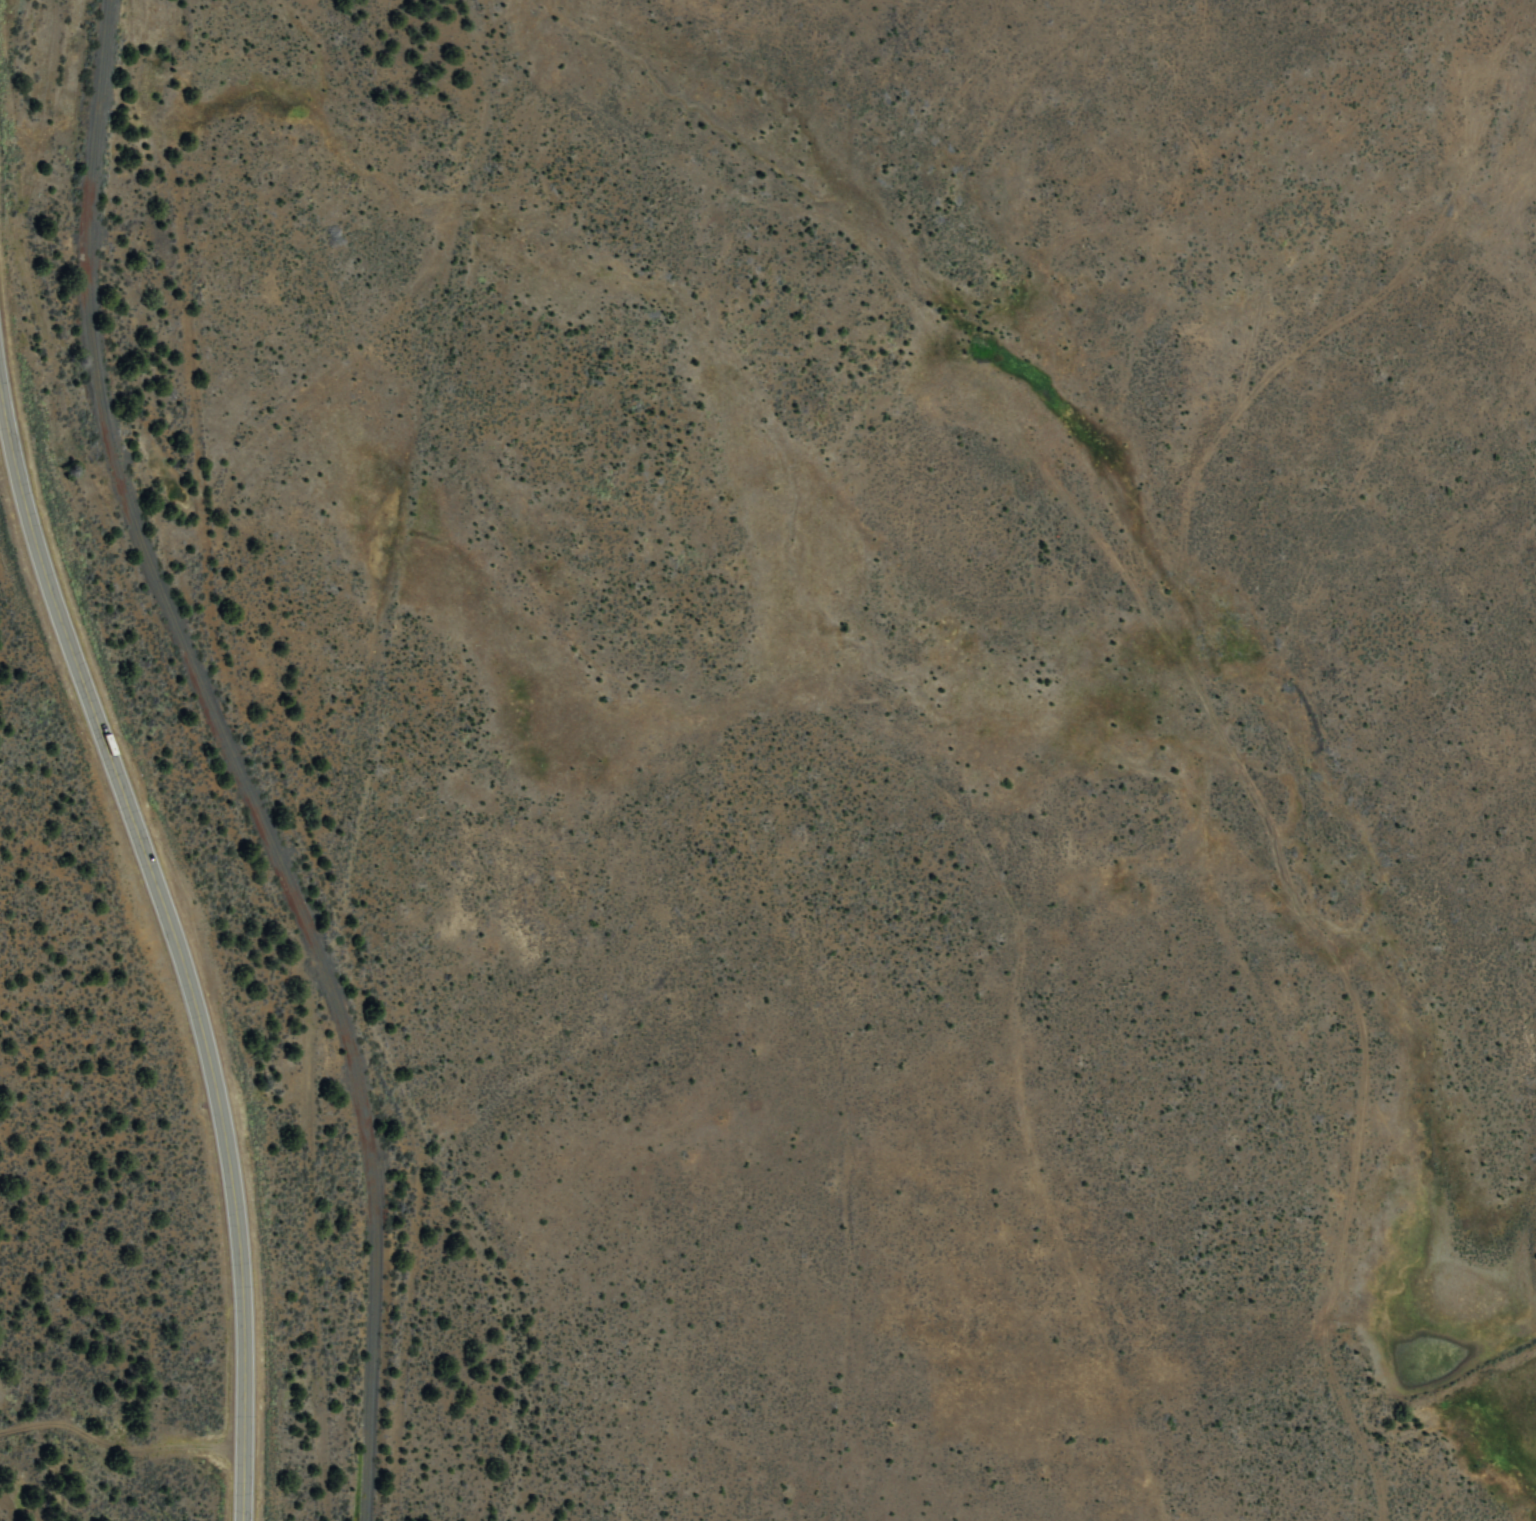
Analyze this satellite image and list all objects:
road: (175, 942)

